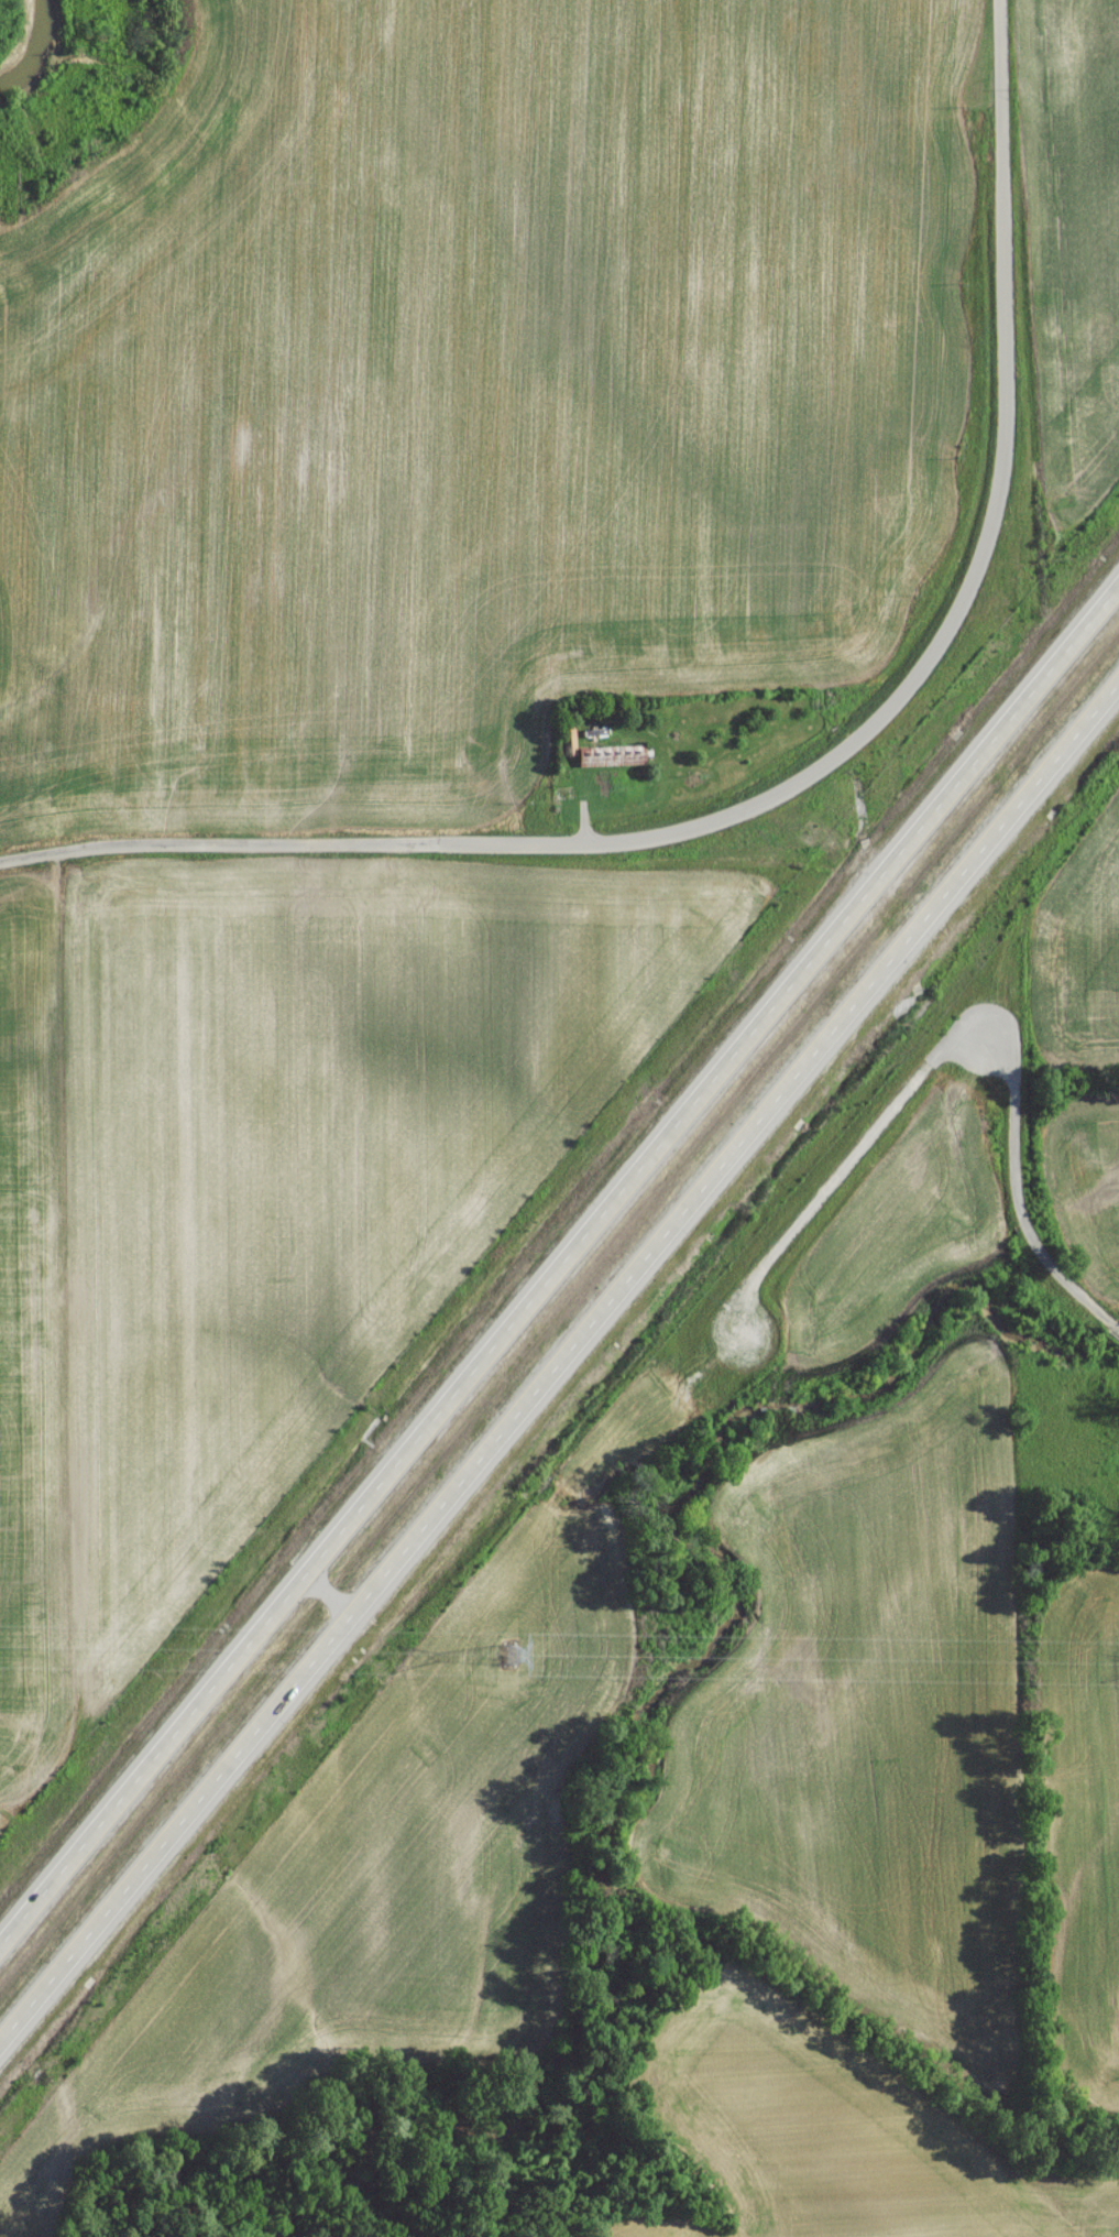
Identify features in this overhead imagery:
road: (1005, 389)
building: (611, 760)
building: (18, 785)
building: (34, 817)
road: (443, 848)
road: (838, 1177)
road: (1012, 1199)
road: (560, 1275)
road: (558, 1367)
road: (327, 1597)
power tower: (505, 1660)

